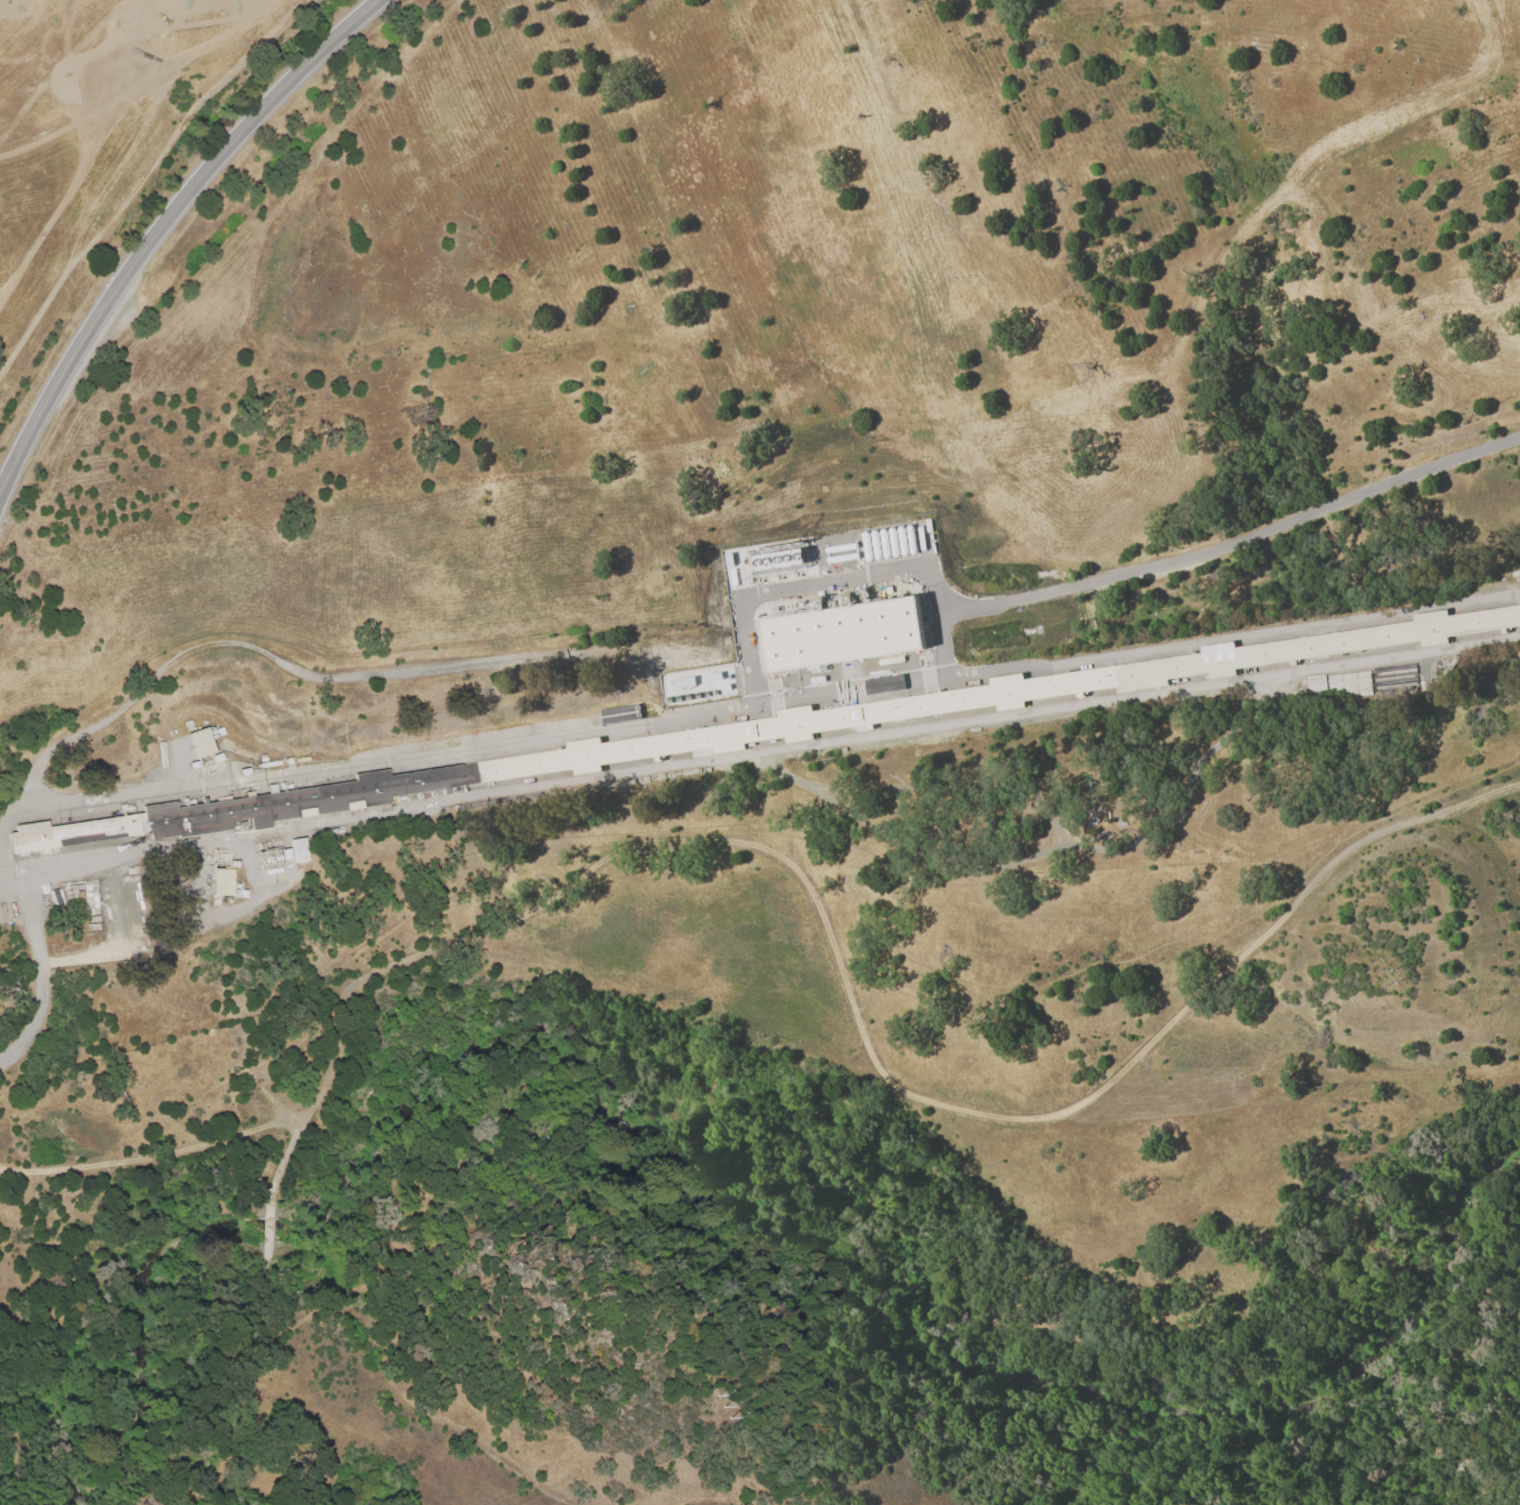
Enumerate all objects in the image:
road: (161, 233)
road: (1234, 544)
building: (781, 559)
road: (786, 589)
road: (933, 591)
building: (817, 603)
building: (846, 634)
road: (283, 664)
road: (757, 694)
building: (618, 713)
building: (216, 733)
building: (744, 734)
building: (202, 745)
road: (770, 751)
building: (220, 760)
building: (264, 760)
building: (290, 762)
building: (196, 767)
building: (246, 774)
building: (300, 850)
building: (288, 855)
building: (220, 859)
building: (270, 860)
building: (235, 865)
building: (276, 875)
building: (226, 883)
road: (806, 885)
building: (242, 894)
road: (40, 964)
road: (278, 1167)
road: (269, 1228)
road: (871, 1283)
road: (222, 1378)

